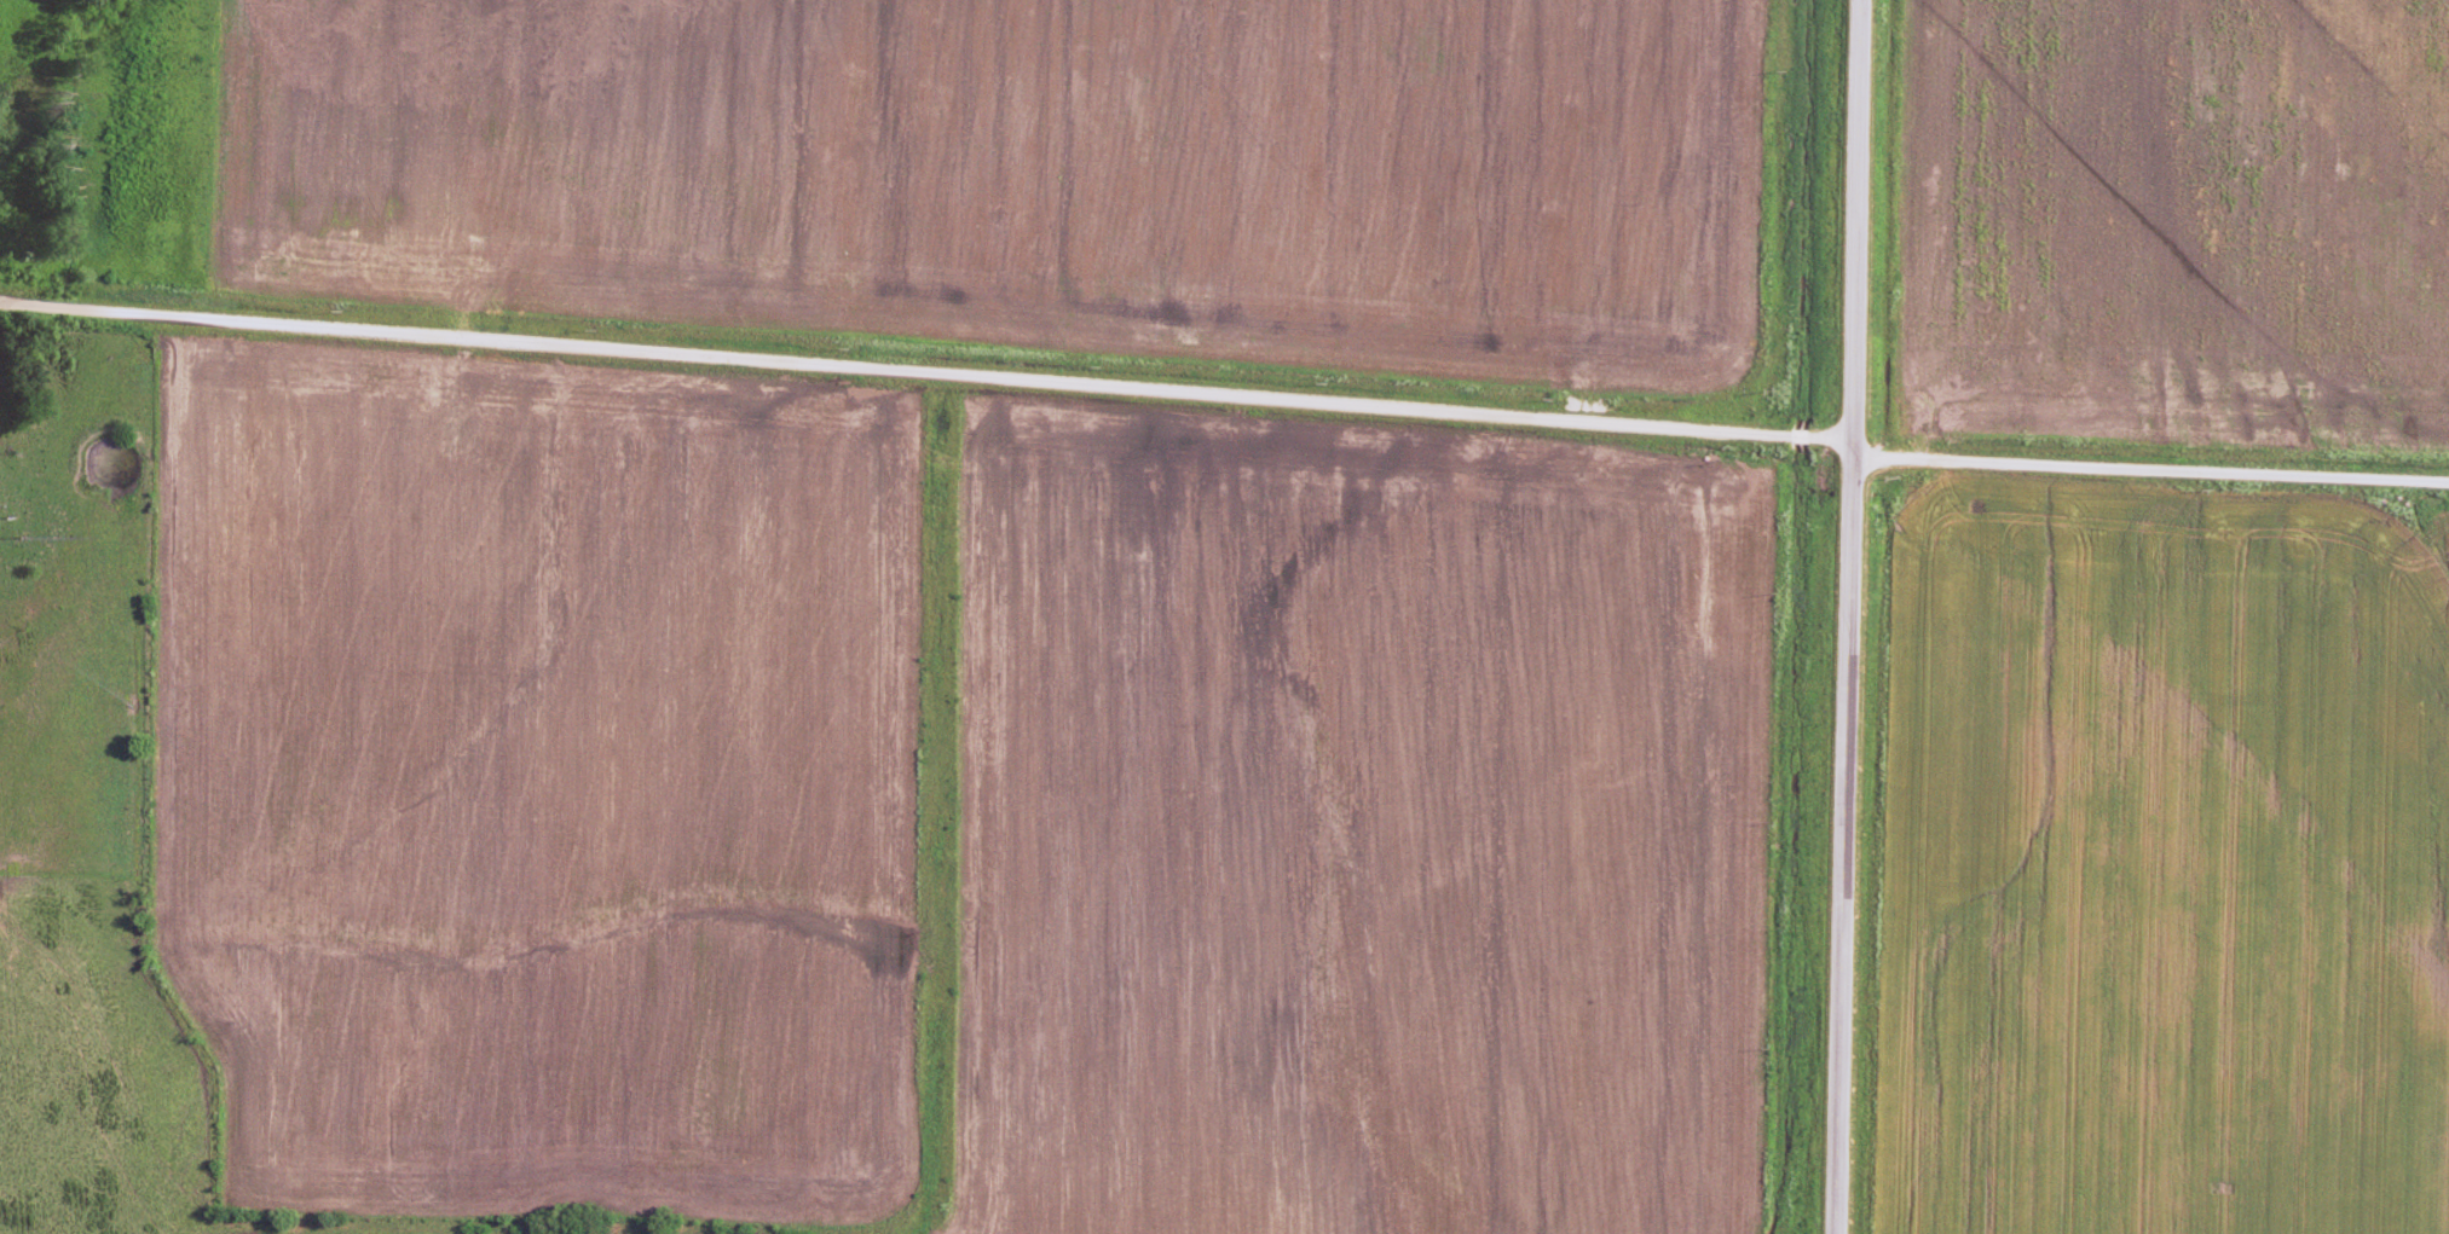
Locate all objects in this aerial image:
road: (926, 369)
road: (2150, 465)
road: (1850, 616)

